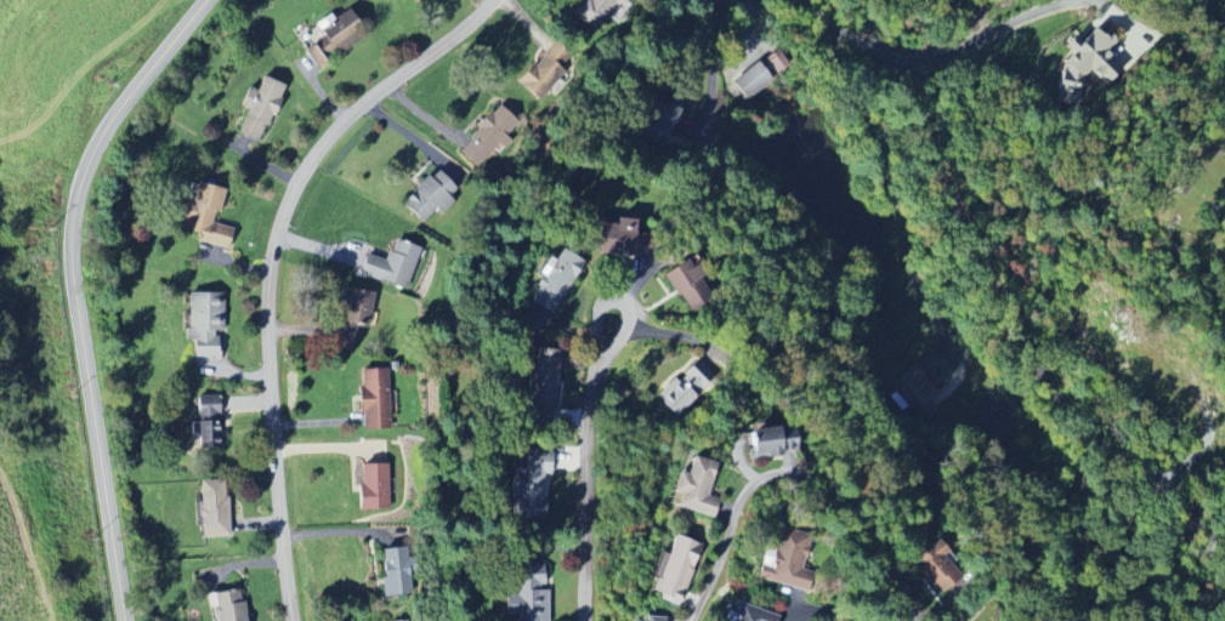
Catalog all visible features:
road: (1111, 8)
building: (594, 12)
road: (844, 32)
road: (881, 32)
building: (335, 36)
road: (982, 38)
building: (1085, 65)
building: (544, 72)
building: (750, 81)
road: (849, 93)
building: (257, 109)
building: (658, 121)
building: (487, 137)
building: (427, 198)
building: (203, 217)
building: (617, 238)
road: (272, 264)
building: (390, 266)
building: (687, 279)
building: (554, 281)
road: (75, 291)
building: (350, 318)
building: (203, 324)
road: (1017, 336)
building: (540, 384)
building: (687, 389)
building: (914, 393)
building: (373, 399)
building: (205, 422)
building: (765, 441)
road: (588, 465)
road: (788, 471)
building: (529, 486)
building: (693, 488)
building: (370, 489)
building: (211, 512)
building: (781, 562)
building: (935, 568)
building: (393, 572)
building: (675, 572)
building: (527, 596)
building: (225, 606)
road: (826, 610)
building: (743, 614)
building: (641, 620)

